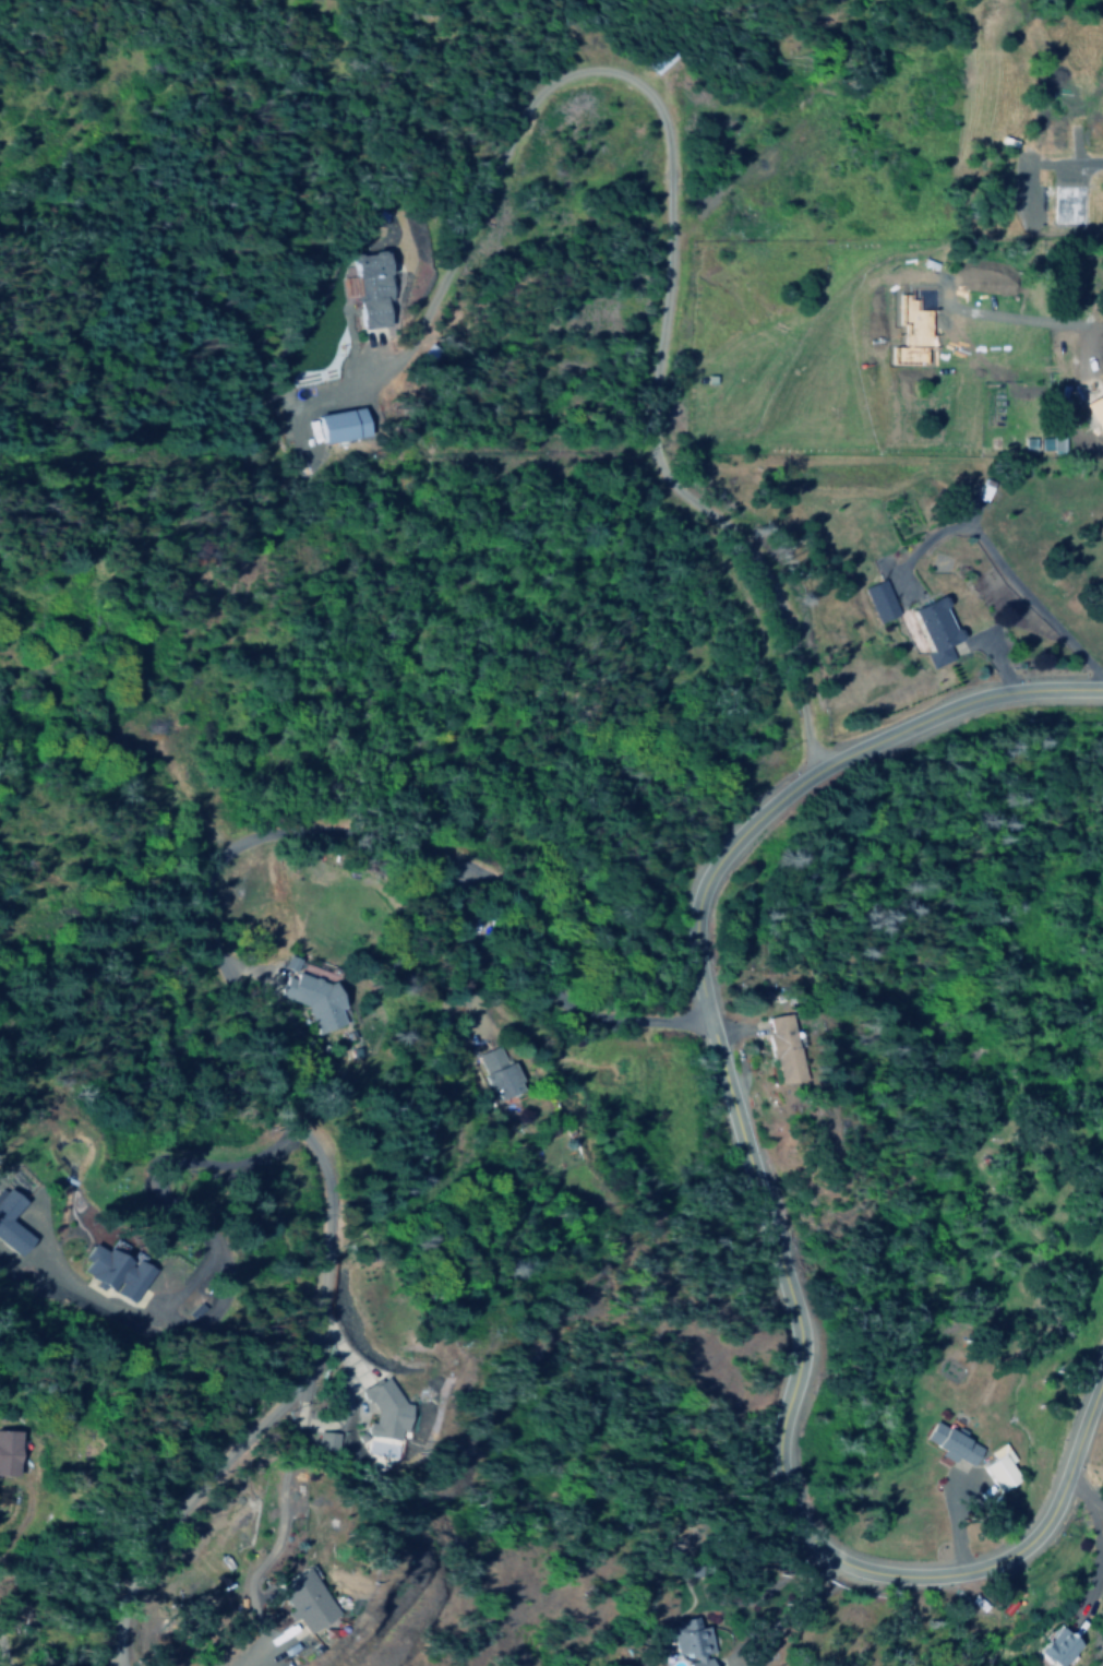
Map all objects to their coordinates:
road: (598, 70)
building: (370, 288)
building: (340, 425)
building: (1051, 443)
building: (983, 490)
road: (765, 585)
building: (880, 600)
building: (935, 630)
road: (820, 776)
building: (312, 1000)
road: (251, 1014)
building: (782, 1049)
building: (495, 1072)
building: (11, 1224)
building: (113, 1272)
building: (384, 1409)
building: (323, 1442)
building: (950, 1444)
building: (8, 1453)
building: (999, 1468)
road: (793, 1480)
road: (1082, 1500)
building: (305, 1602)
building: (692, 1642)
building: (1057, 1649)

